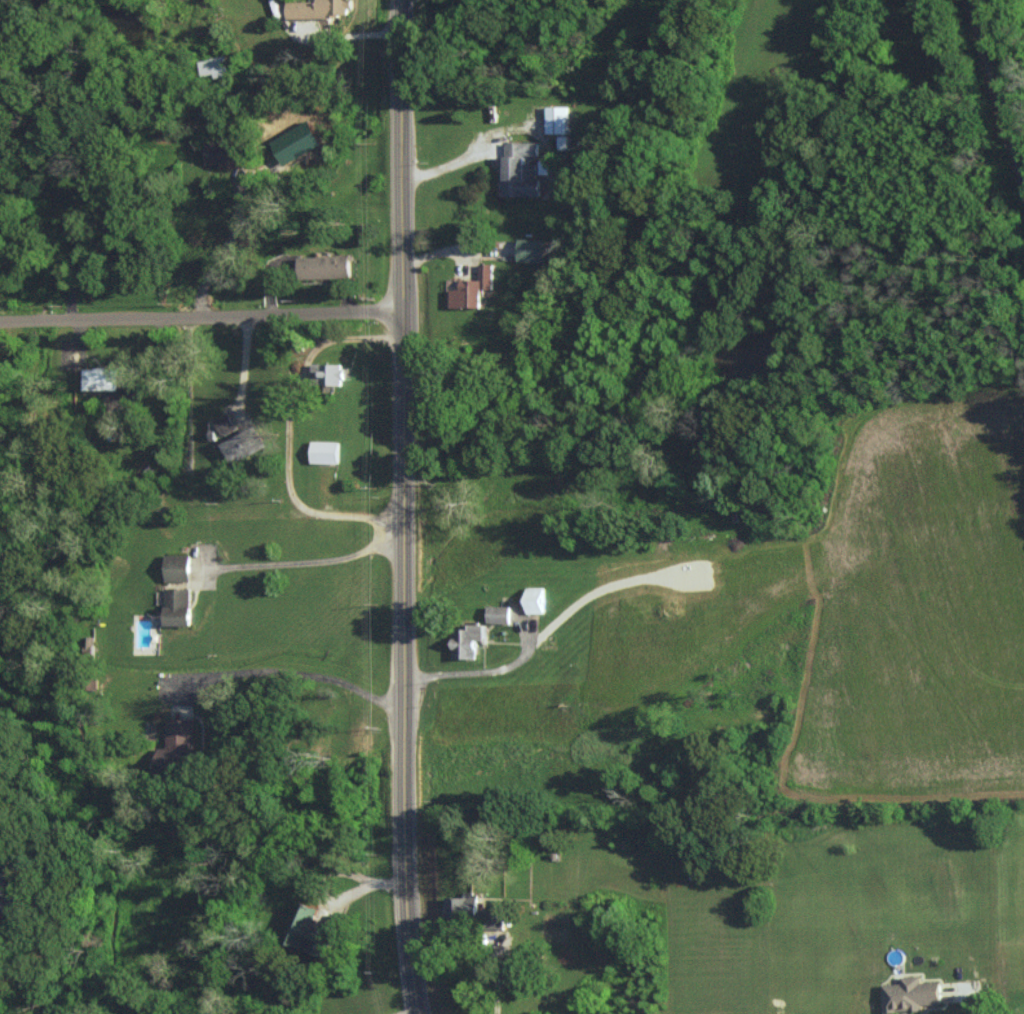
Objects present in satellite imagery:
building: (317, 9)
railway: (998, 85)
building: (556, 120)
building: (562, 142)
building: (221, 153)
road: (457, 158)
building: (544, 167)
building: (518, 169)
building: (530, 250)
building: (323, 267)
building: (471, 289)
road: (202, 319)
building: (326, 374)
building: (100, 379)
building: (224, 424)
road: (285, 424)
building: (239, 446)
building: (323, 452)
road: (407, 507)
road: (313, 560)
building: (176, 568)
building: (533, 599)
building: (176, 606)
building: (497, 613)
building: (465, 639)
road: (481, 669)
building: (175, 746)
building: (304, 931)
building: (909, 994)
road: (974, 1007)

